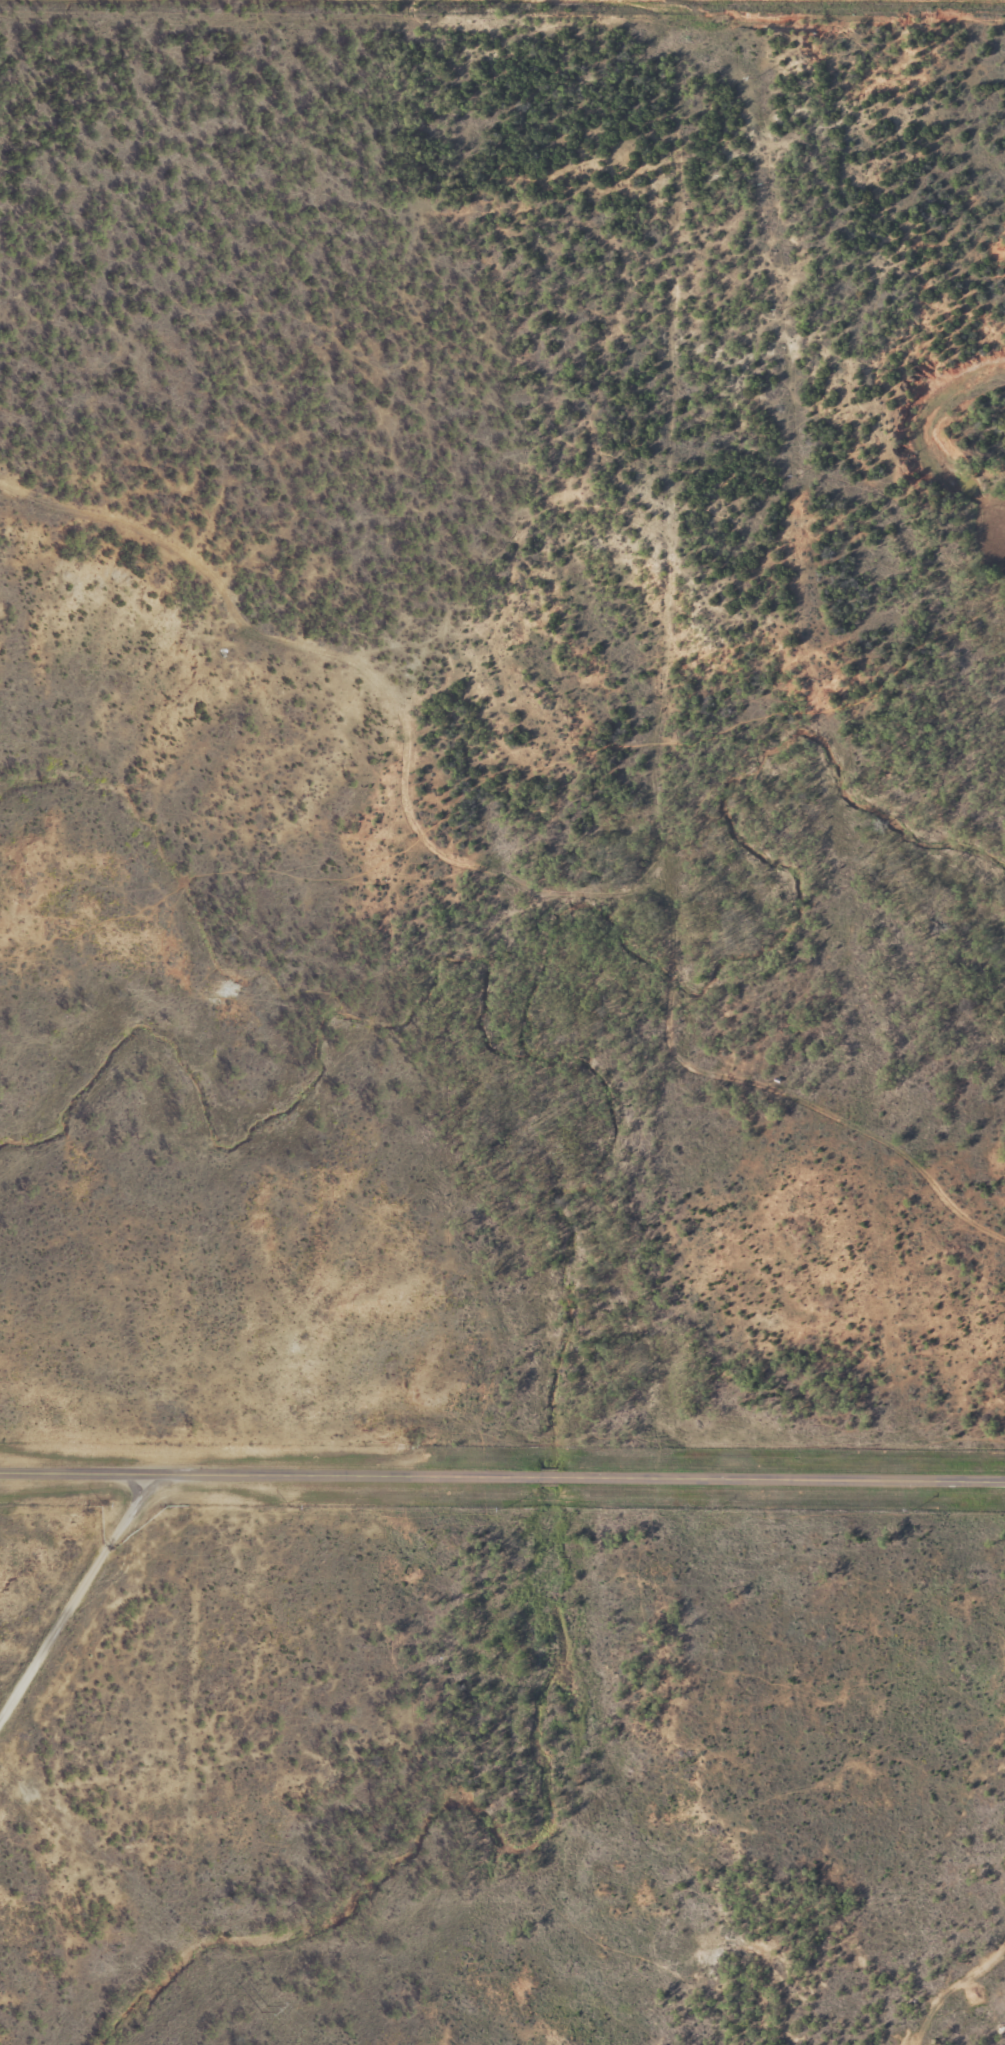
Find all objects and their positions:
road: (502, 1476)
road: (75, 1599)
power tower: (267, 2008)
road: (976, 2014)
building: (983, 2031)

